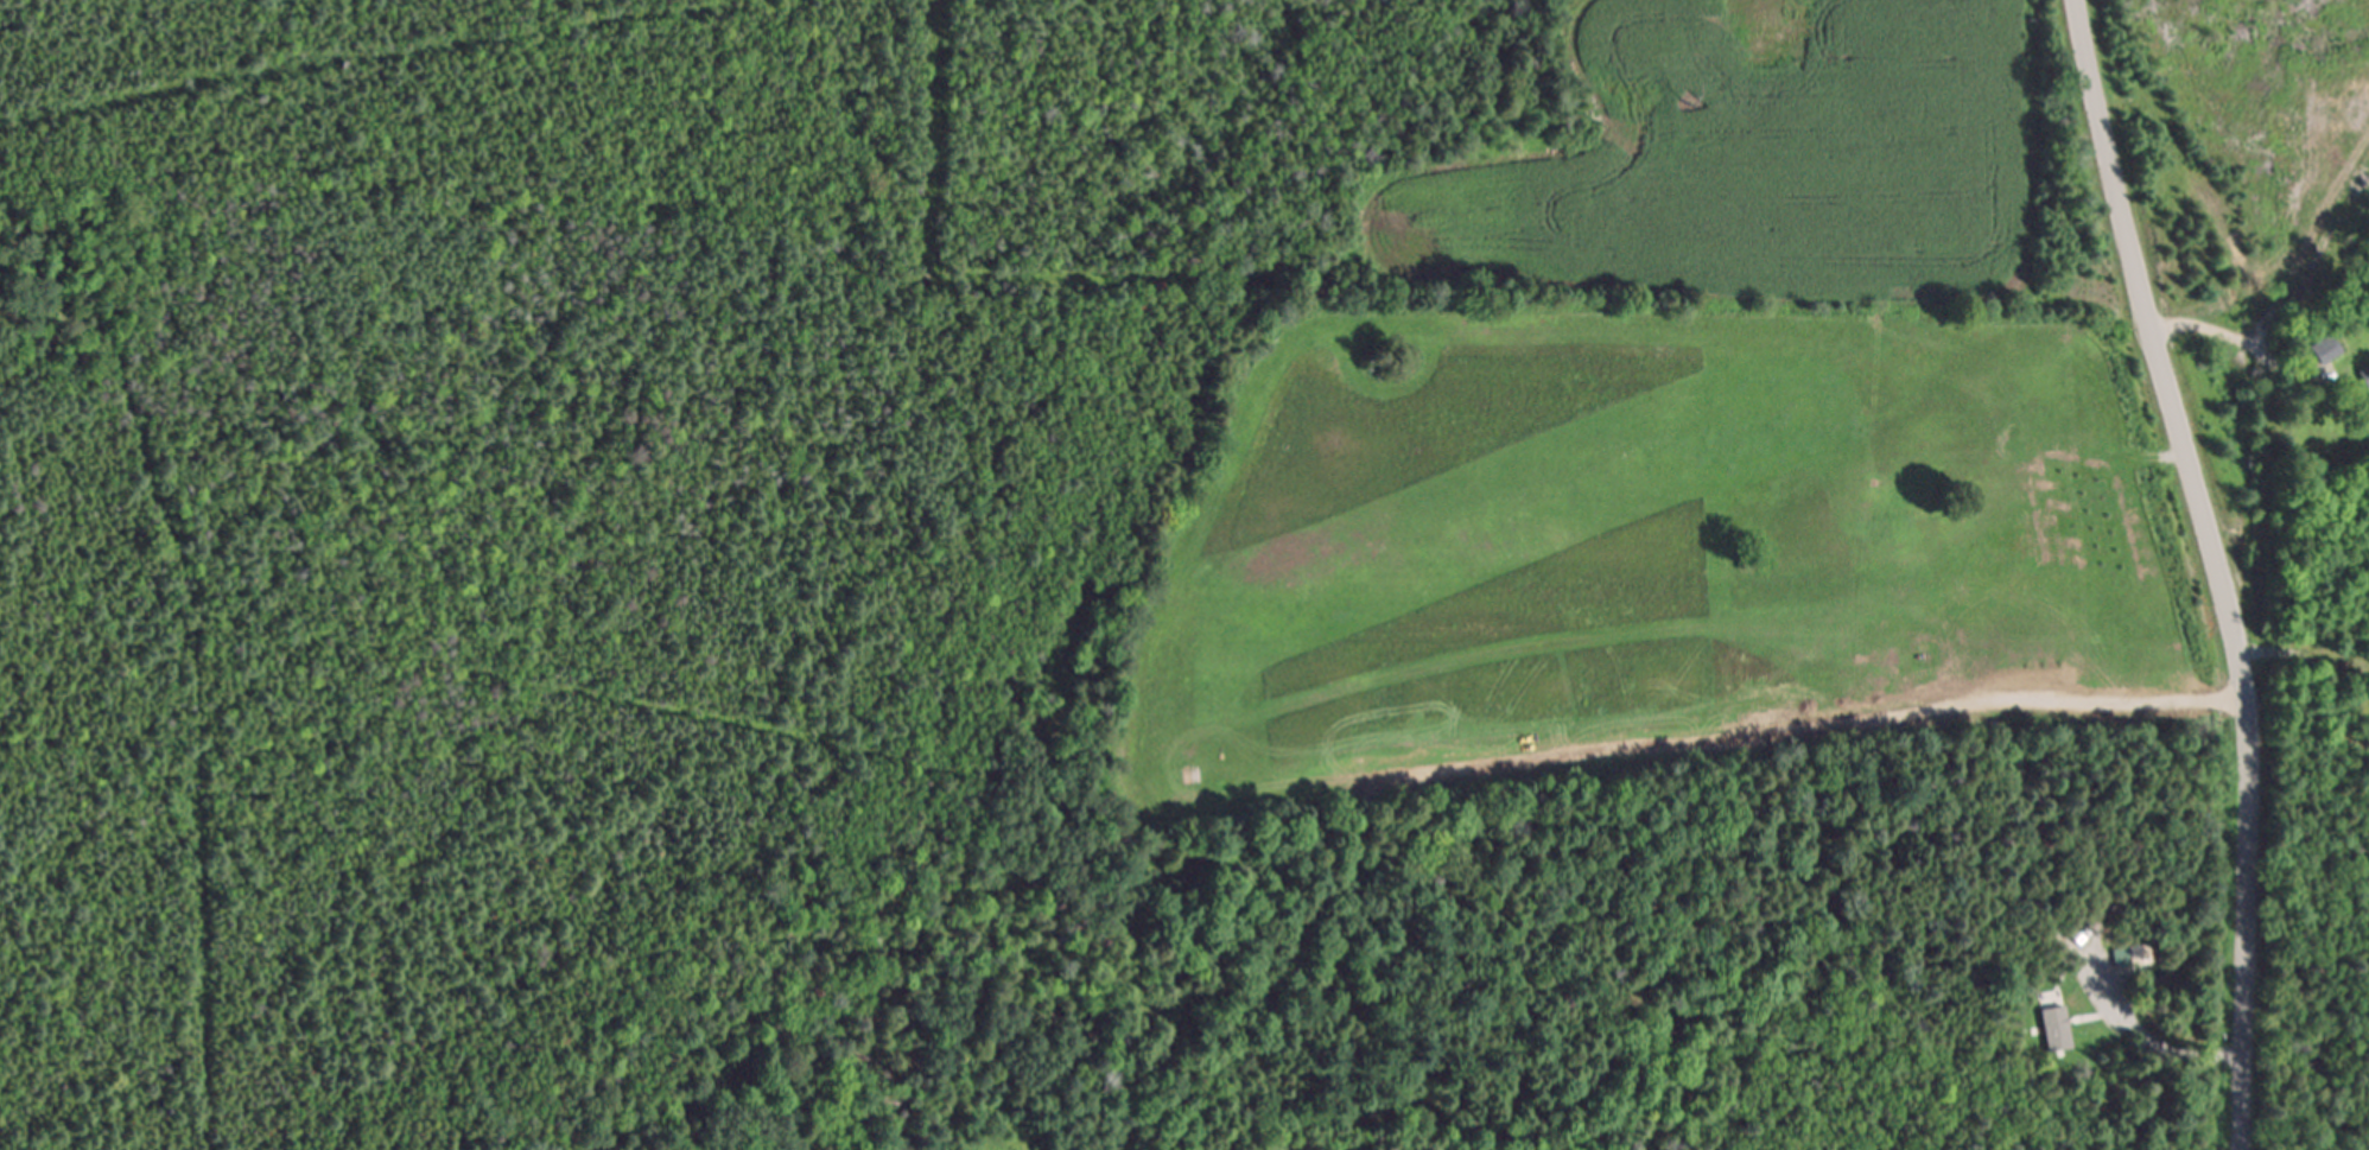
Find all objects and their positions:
road: (2205, 325)
building: (2323, 349)
building: (2365, 373)
road: (2216, 567)

